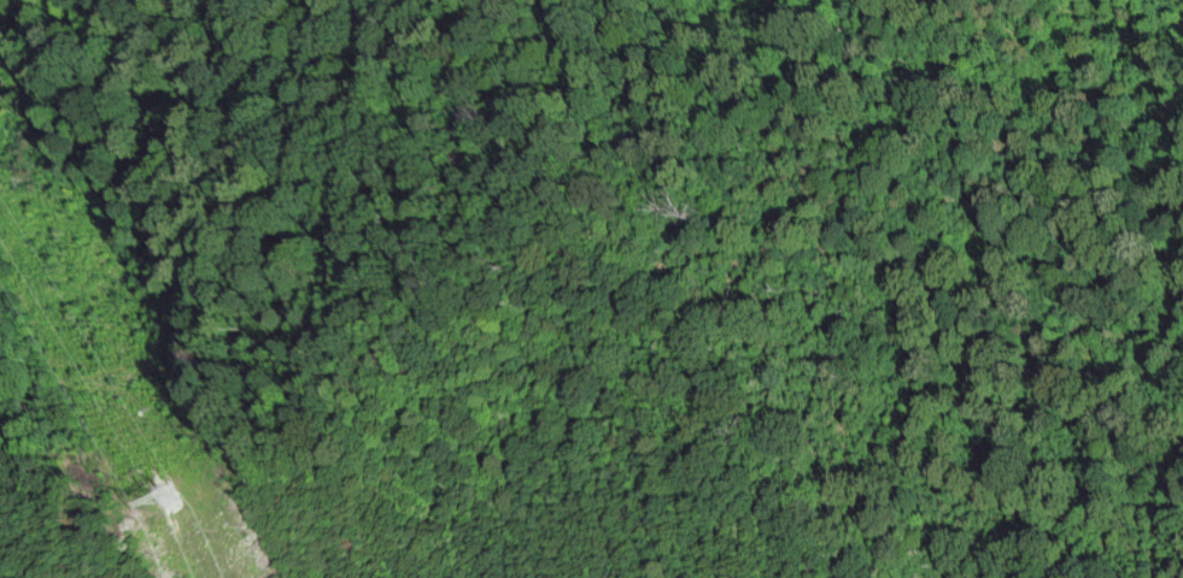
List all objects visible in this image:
road: (573, 315)

